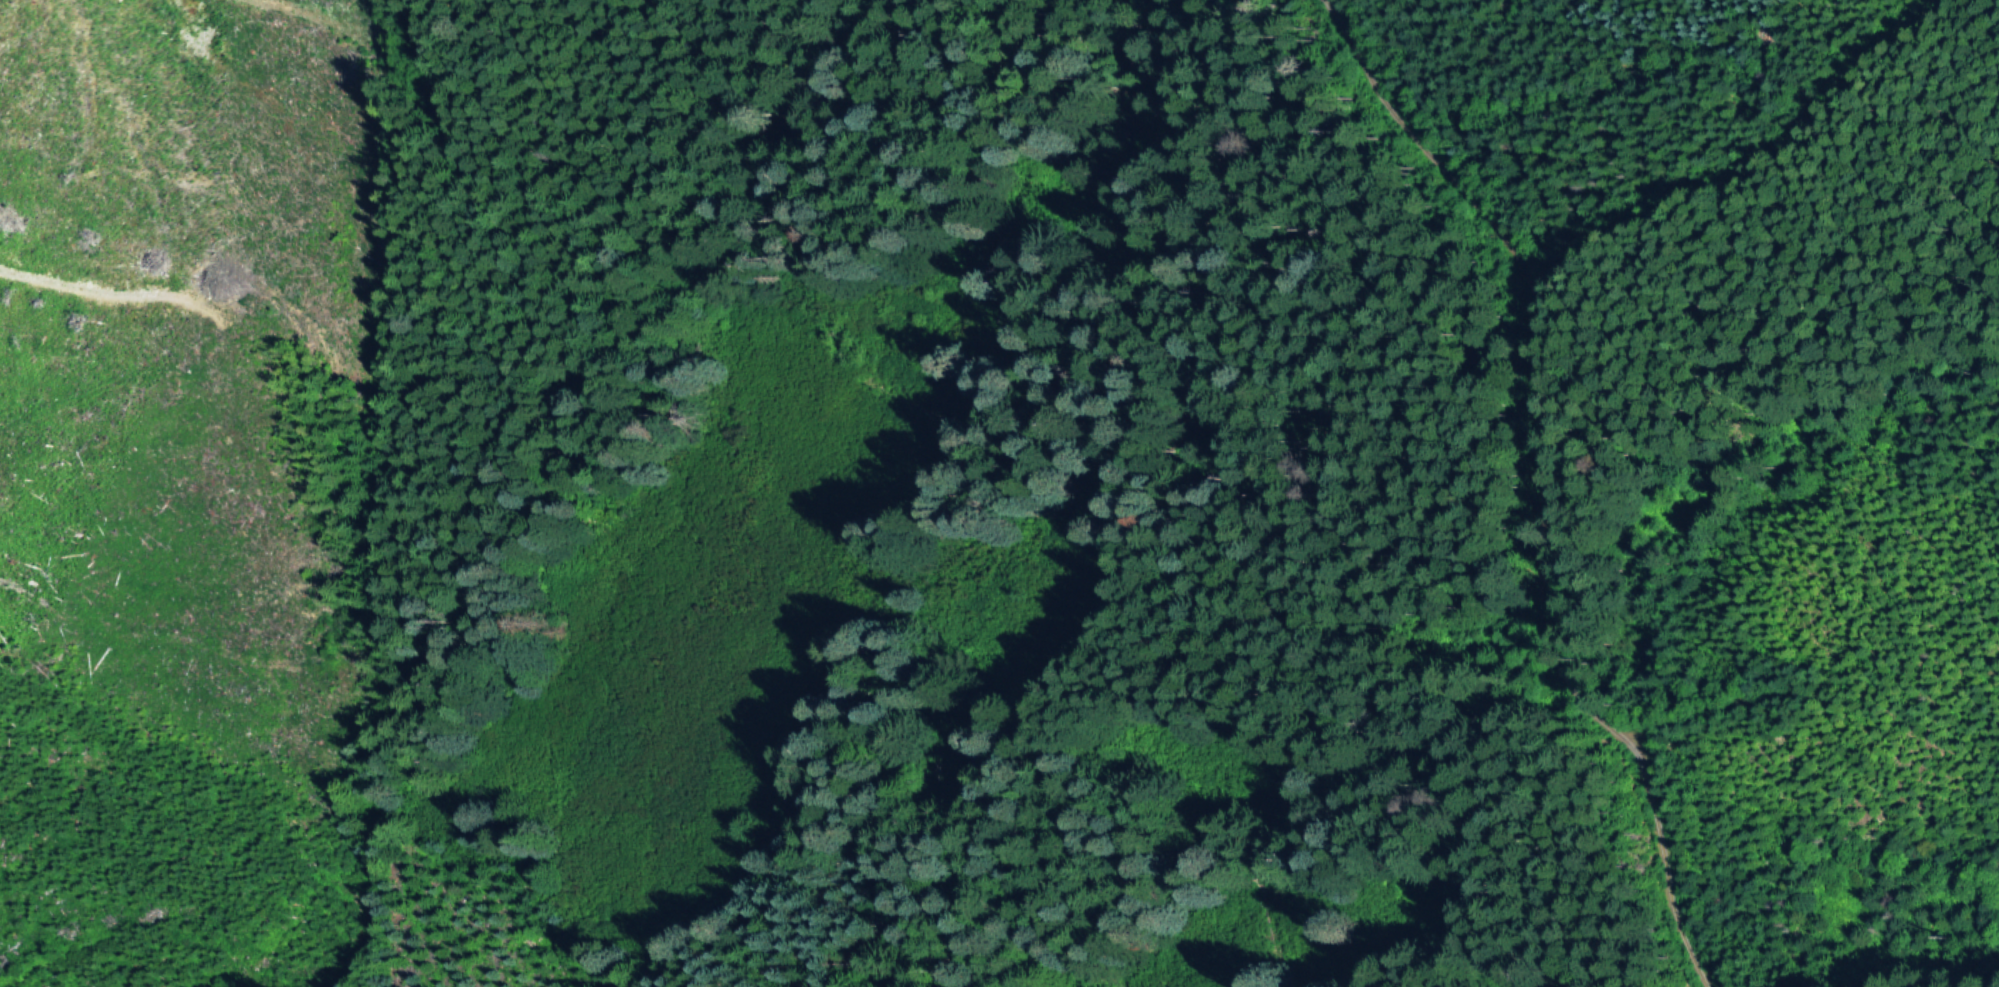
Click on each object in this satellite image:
road: (312, 11)
road: (100, 288)
road: (1546, 478)
road: (78, 949)

